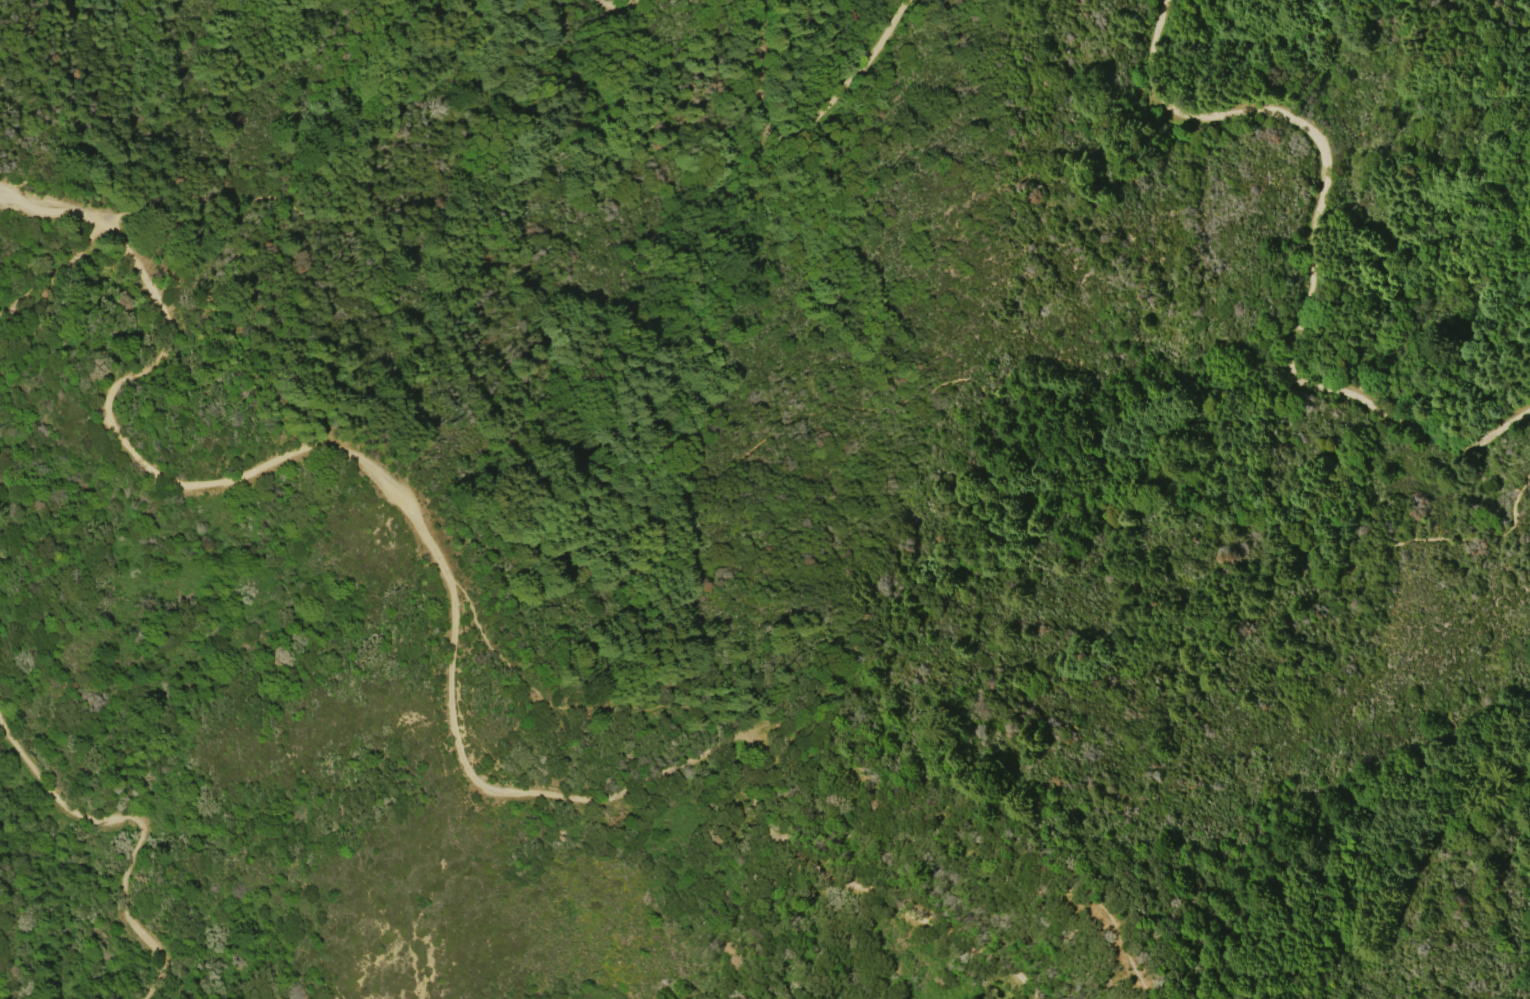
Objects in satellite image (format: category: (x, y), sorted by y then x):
road: (816, 129)
road: (1309, 246)
road: (53, 278)
road: (736, 460)
road: (450, 633)
road: (132, 834)
road: (1112, 938)

